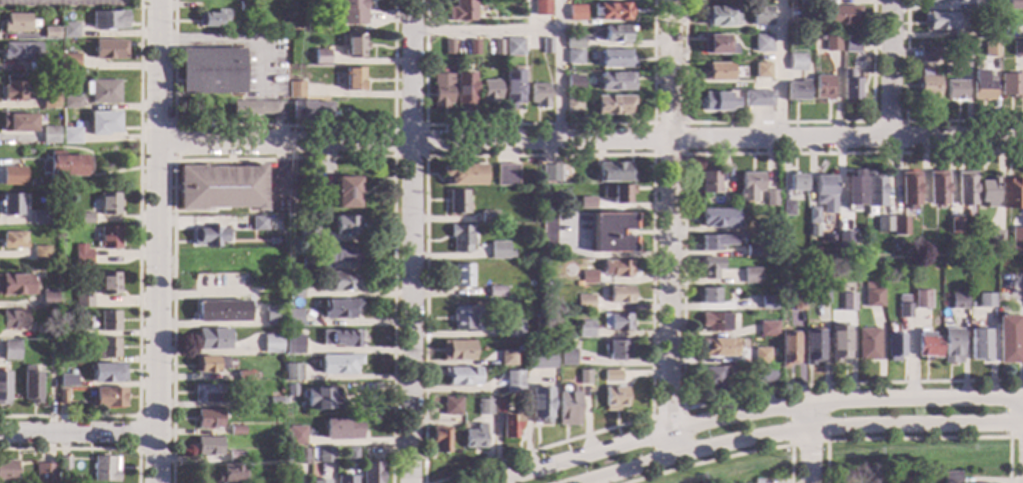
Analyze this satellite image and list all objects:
building: (250, 0)
building: (940, 1)
building: (805, 3)
building: (1014, 4)
building: (982, 5)
building: (244, 6)
building: (253, 6)
building: (542, 7)
building: (461, 11)
building: (612, 11)
building: (351, 13)
building: (576, 13)
building: (717, 16)
building: (761, 16)
building: (843, 16)
building: (212, 19)
building: (108, 20)
building: (938, 20)
building: (15, 23)
building: (795, 29)
building: (69, 30)
road: (484, 32)
building: (49, 33)
building: (987, 33)
building: (616, 34)
road: (234, 40)
building: (574, 42)
building: (762, 43)
building: (831, 43)
building: (851, 43)
building: (717, 45)
building: (356, 46)
building: (546, 46)
building: (449, 47)
building: (473, 47)
building: (498, 47)
building: (514, 48)
building: (1017, 48)
building: (109, 49)
building: (989, 49)
building: (19, 50)
building: (926, 54)
building: (322, 56)
building: (574, 58)
building: (309, 59)
building: (616, 59)
building: (69, 61)
building: (48, 62)
building: (797, 62)
road: (778, 69)
road: (889, 69)
road: (558, 70)
building: (211, 71)
building: (761, 71)
building: (718, 72)
building: (355, 79)
building: (617, 82)
building: (575, 83)
building: (1010, 84)
building: (849, 86)
building: (981, 86)
building: (822, 87)
building: (513, 88)
building: (927, 88)
building: (52, 89)
building: (296, 89)
building: (441, 90)
building: (465, 90)
building: (955, 90)
building: (12, 91)
building: (490, 91)
building: (797, 91)
building: (102, 92)
building: (539, 95)
building: (758, 98)
building: (48, 100)
building: (717, 101)
building: (70, 103)
building: (573, 103)
building: (613, 105)
building: (256, 108)
building: (311, 111)
road: (904, 120)
road: (887, 122)
building: (17, 123)
building: (102, 123)
road: (775, 123)
road: (683, 124)
road: (537, 125)
road: (282, 126)
building: (48, 135)
building: (69, 136)
road: (589, 140)
road: (619, 155)
road: (392, 158)
road: (284, 159)
building: (65, 167)
building: (614, 173)
building: (550, 174)
building: (461, 175)
building: (505, 175)
building: (12, 178)
building: (709, 182)
building: (796, 183)
building: (31, 184)
building: (749, 186)
building: (823, 186)
building: (936, 187)
building: (221, 188)
building: (964, 188)
building: (909, 189)
building: (853, 190)
building: (873, 190)
building: (986, 192)
building: (347, 193)
building: (617, 193)
building: (1012, 193)
building: (796, 195)
building: (770, 198)
building: (456, 202)
building: (11, 204)
building: (109, 204)
building: (311, 205)
building: (585, 205)
building: (787, 208)
building: (812, 215)
building: (487, 217)
building: (38, 218)
building: (718, 218)
building: (85, 219)
building: (258, 224)
building: (883, 224)
building: (345, 225)
building: (899, 226)
building: (953, 226)
road: (669, 228)
building: (1021, 228)
building: (813, 230)
building: (547, 231)
building: (610, 233)
building: (308, 234)
building: (208, 237)
building: (995, 237)
building: (460, 238)
building: (108, 239)
building: (12, 240)
building: (846, 240)
building: (1016, 240)
road: (156, 241)
road: (409, 241)
building: (951, 241)
building: (715, 242)
building: (498, 251)
building: (753, 251)
building: (40, 254)
building: (340, 254)
building: (82, 255)
building: (308, 264)
building: (709, 267)
building: (617, 269)
road: (137, 276)
building: (459, 276)
building: (750, 276)
building: (587, 277)
building: (1000, 278)
building: (344, 281)
building: (109, 283)
road: (682, 283)
building: (576, 284)
building: (16, 285)
building: (293, 288)
building: (494, 292)
building: (620, 294)
building: (709, 295)
building: (820, 295)
building: (872, 296)
building: (48, 299)
building: (83, 300)
building: (922, 300)
building: (986, 300)
building: (958, 301)
building: (848, 302)
building: (583, 303)
building: (768, 303)
building: (797, 303)
building: (904, 304)
building: (339, 309)
building: (223, 311)
building: (272, 316)
building: (293, 318)
building: (464, 318)
building: (13, 319)
building: (109, 321)
building: (616, 321)
building: (718, 321)
building: (511, 328)
building: (585, 329)
building: (768, 329)
building: (66, 330)
building: (45, 332)
building: (340, 338)
building: (212, 339)
building: (1008, 339)
building: (839, 343)
building: (271, 344)
building: (293, 344)
building: (868, 344)
building: (928, 345)
building: (979, 345)
building: (894, 346)
building: (951, 346)
building: (718, 347)
building: (813, 347)
building: (107, 348)
building: (788, 349)
building: (51, 350)
building: (455, 350)
building: (615, 350)
building: (10, 351)
building: (761, 355)
building: (567, 356)
building: (67, 358)
building: (505, 358)
building: (208, 364)
building: (338, 364)
building: (538, 368)
building: (292, 372)
building: (108, 373)
building: (767, 374)
building: (716, 375)
building: (245, 376)
building: (460, 376)
building: (611, 376)
building: (583, 377)
building: (512, 381)
building: (65, 384)
building: (30, 385)
building: (4, 388)
building: (205, 393)
building: (61, 397)
building: (109, 397)
building: (614, 398)
building: (321, 399)
building: (274, 403)
building: (539, 405)
building: (451, 406)
building: (498, 406)
building: (483, 407)
building: (567, 408)
road: (753, 411)
road: (666, 413)
building: (209, 419)
building: (509, 424)
building: (341, 429)
building: (236, 430)
road: (137, 433)
road: (803, 433)
road: (76, 435)
building: (296, 436)
building: (474, 437)
road: (1016, 437)
road: (919, 438)
building: (440, 439)
road: (806, 444)
building: (208, 446)
road: (85, 450)
building: (325, 455)
building: (351, 455)
building: (301, 456)
building: (234, 457)
road: (729, 457)
building: (64, 465)
building: (106, 469)
building: (7, 471)
building: (45, 473)
building: (371, 473)
building: (231, 474)
building: (951, 477)
building: (346, 479)
building: (318, 481)
building: (758, 481)

